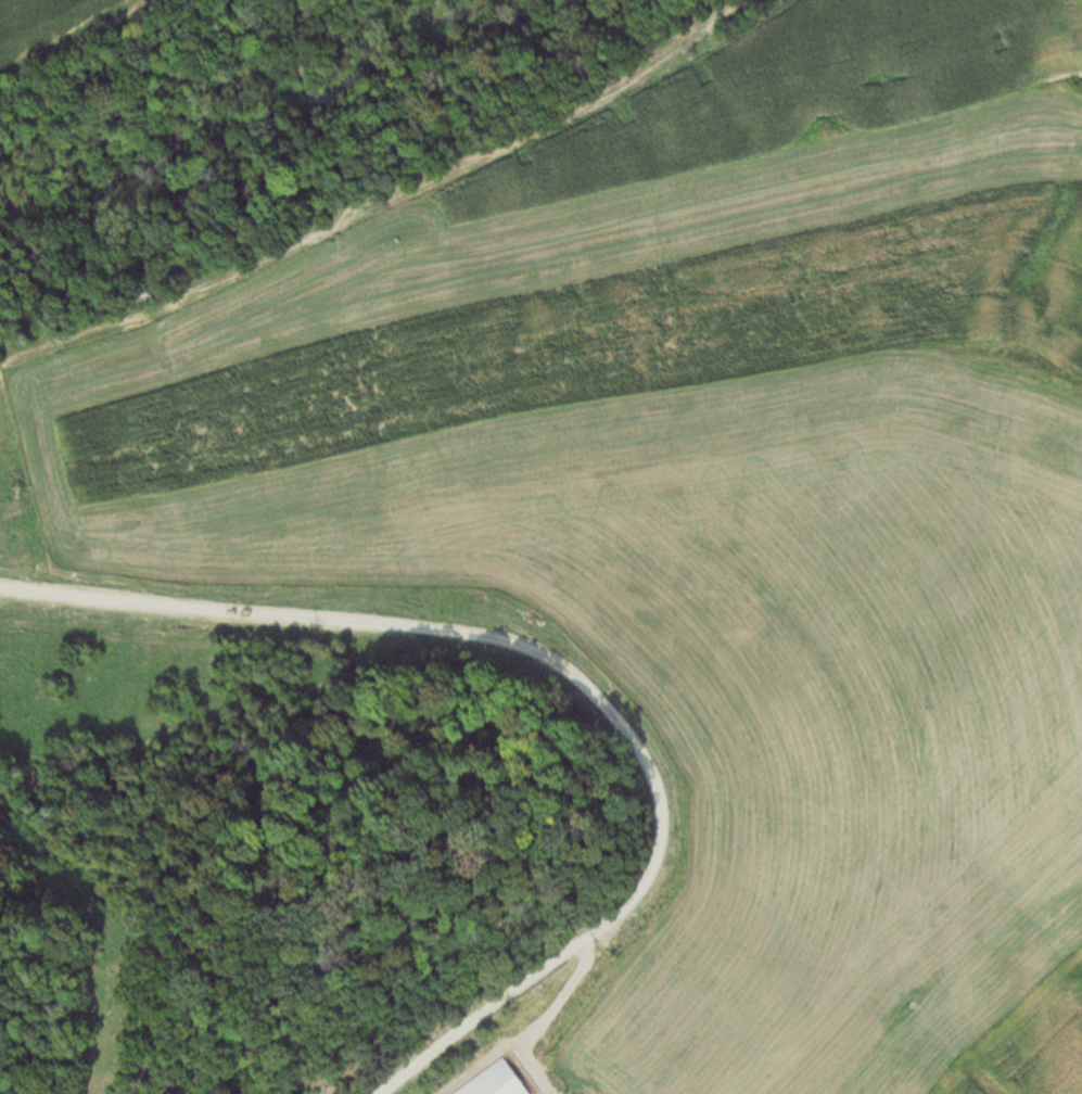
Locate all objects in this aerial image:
road: (565, 684)
building: (498, 1081)

